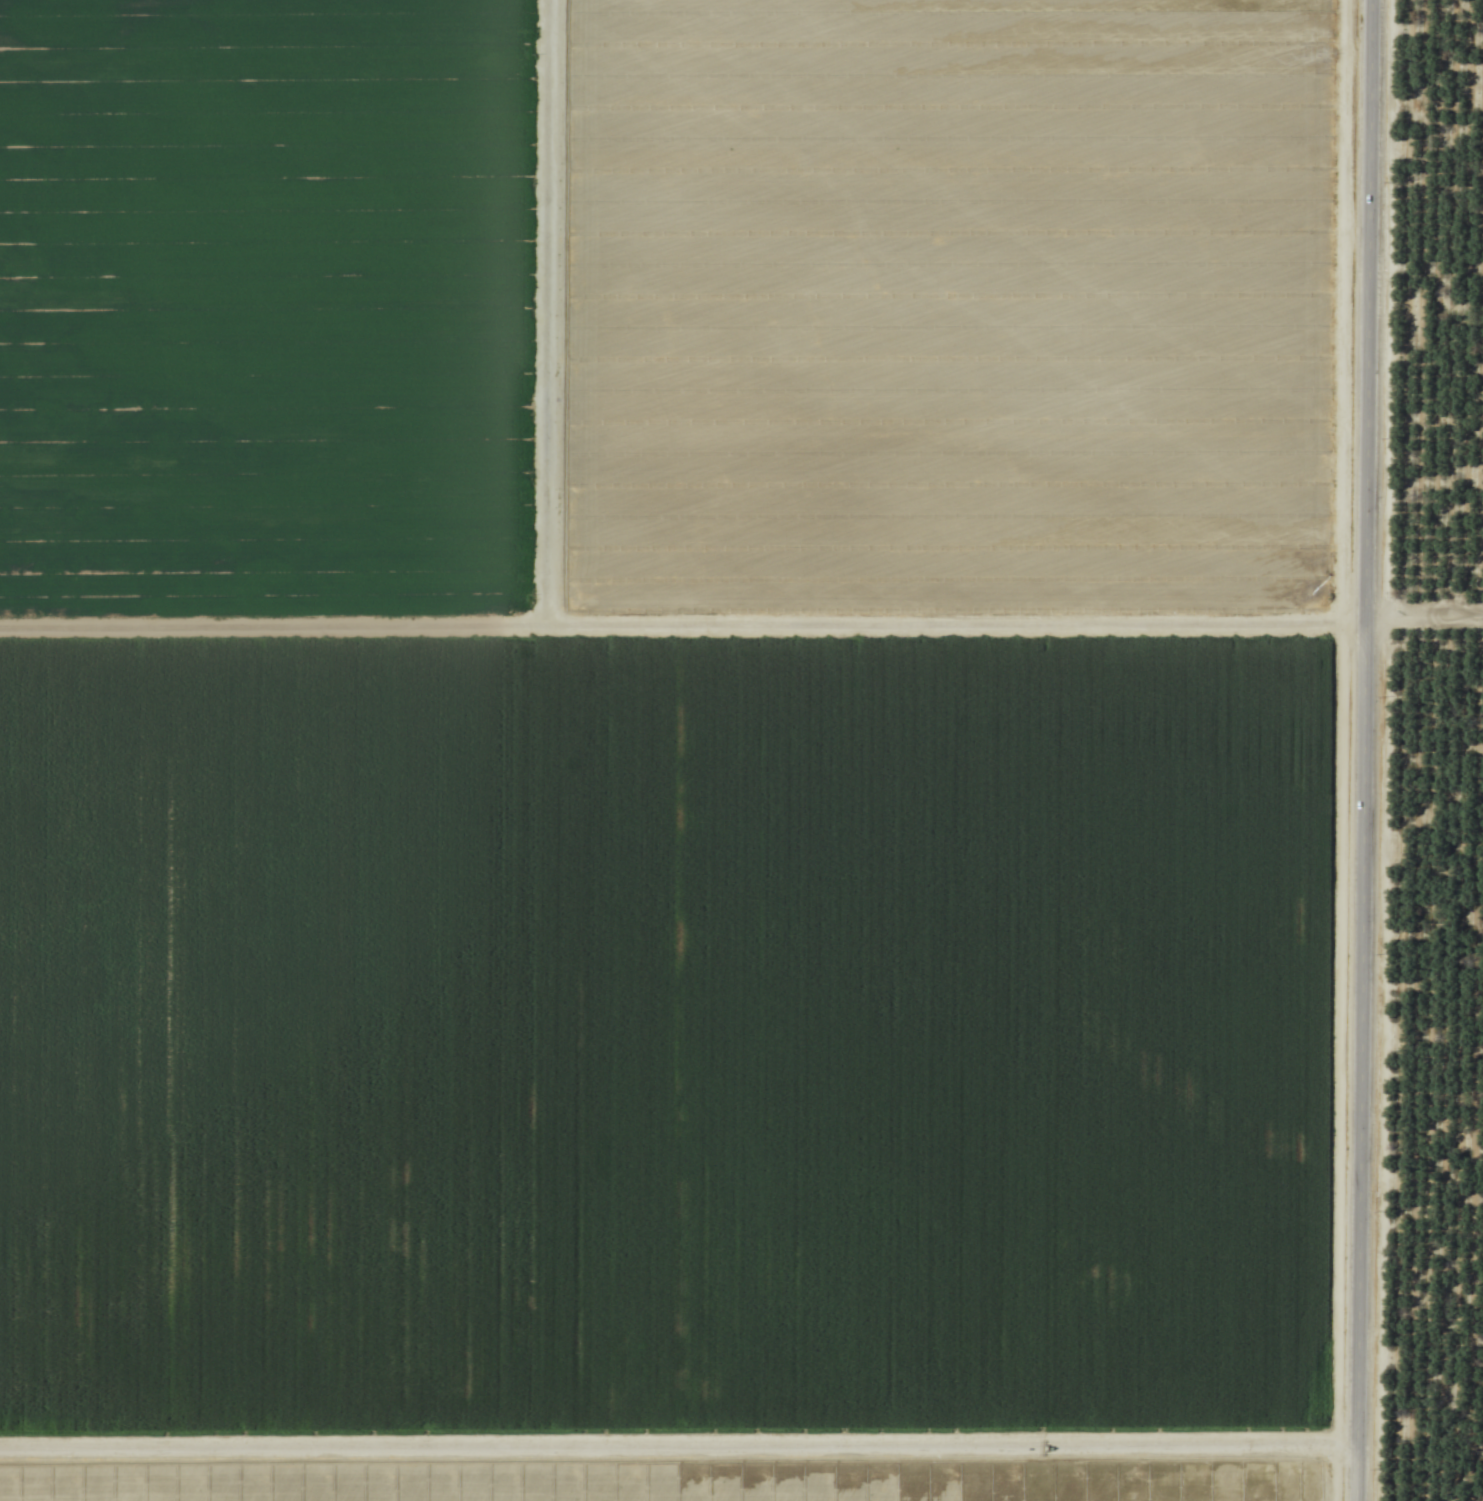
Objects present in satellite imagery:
crop: (741, 750)
road: (1366, 750)

